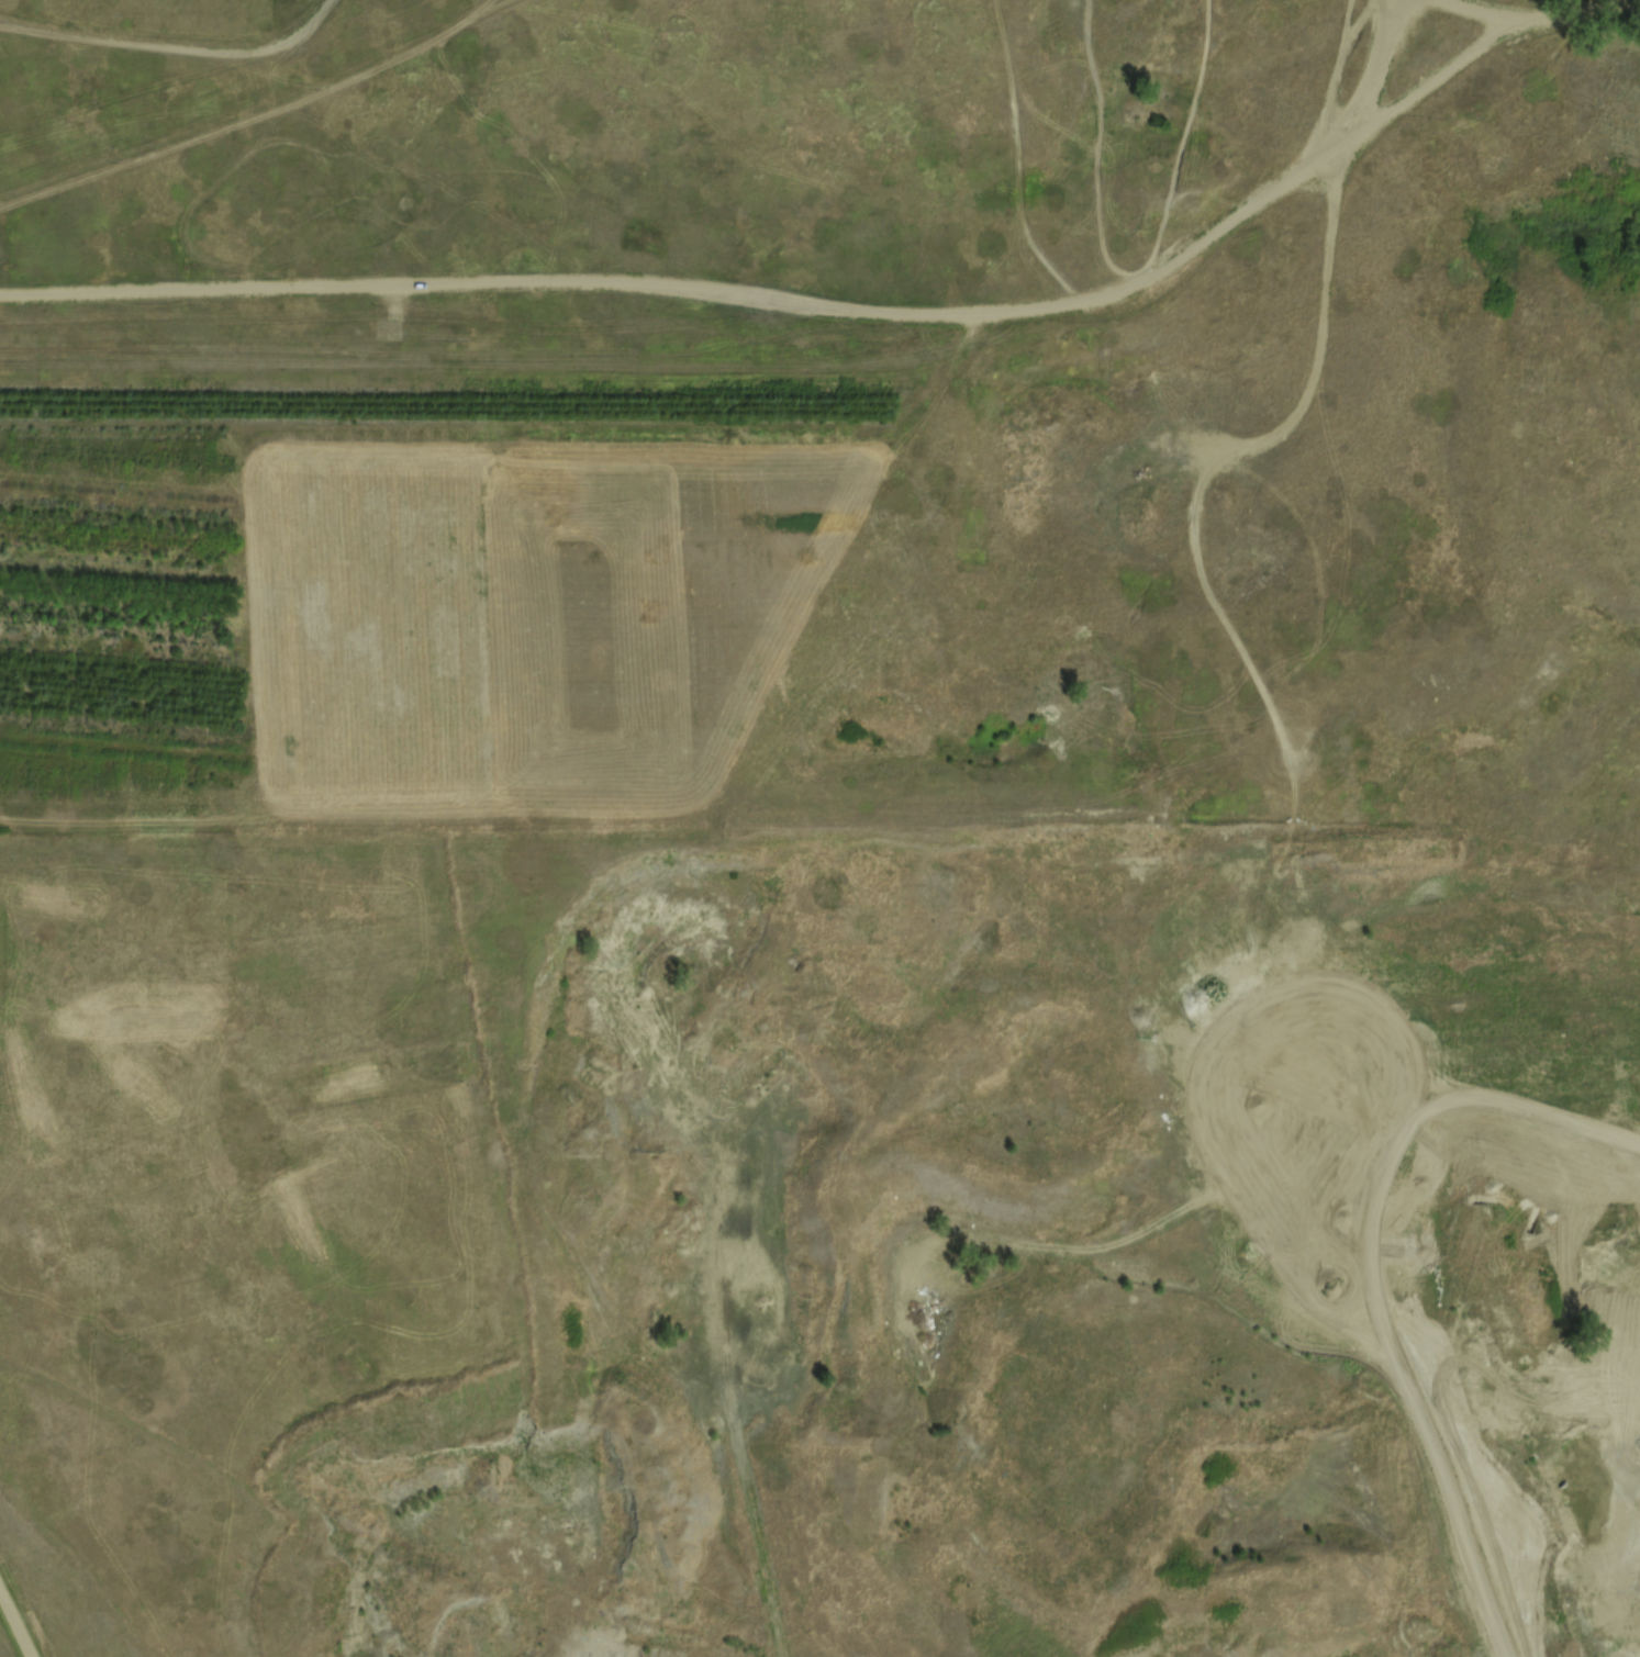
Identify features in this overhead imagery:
road: (886, 428)
road: (1429, 1456)
road: (18, 1617)

